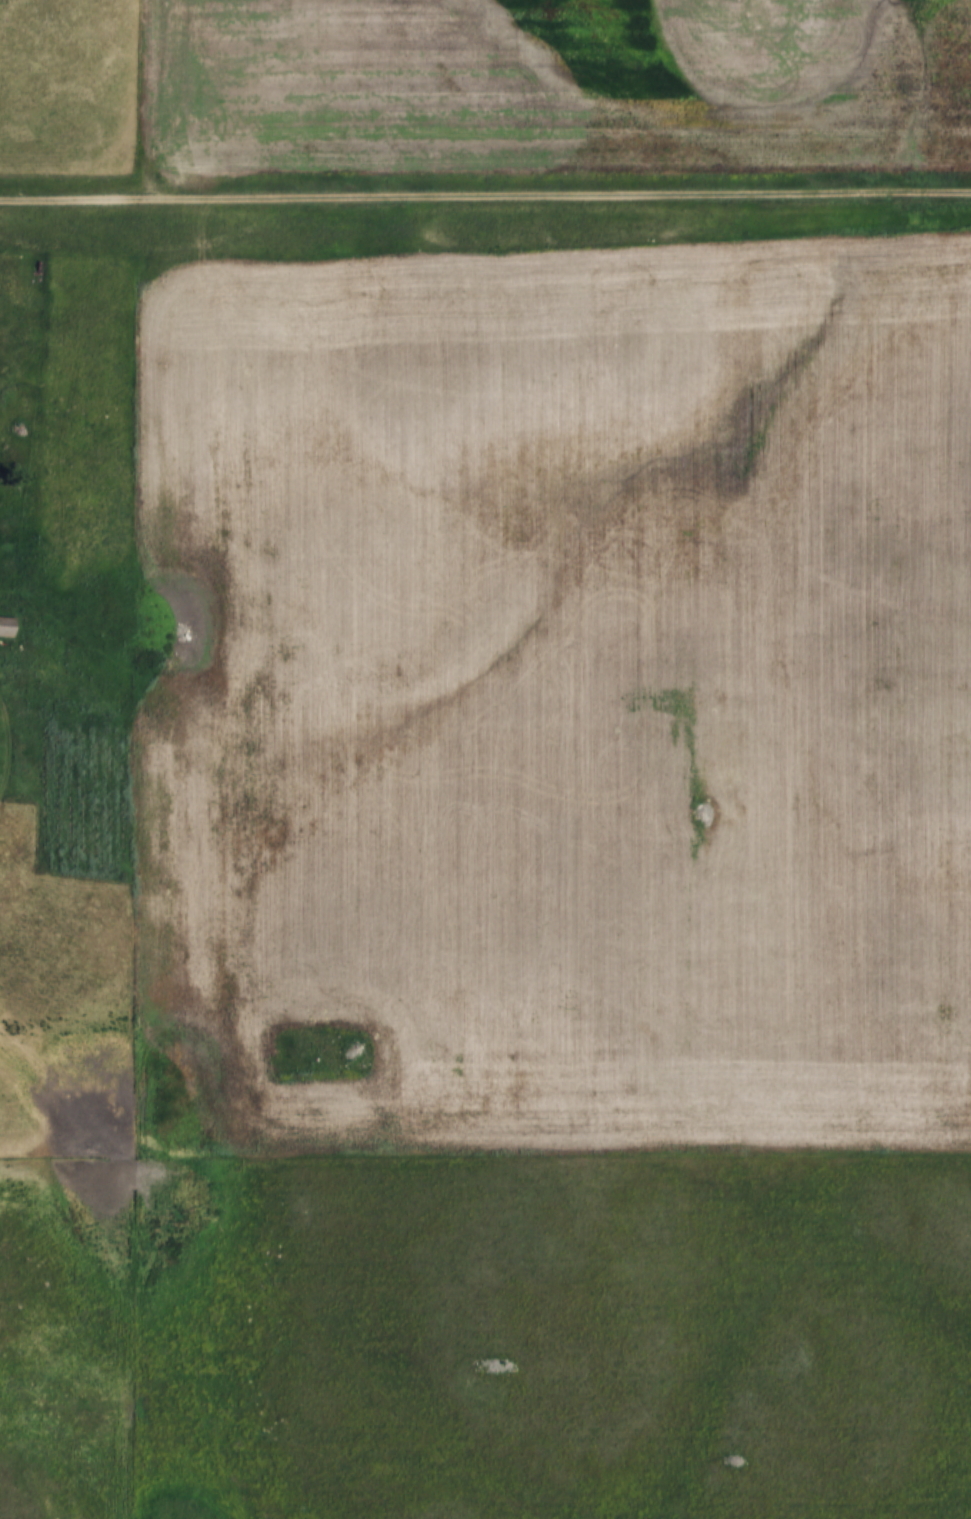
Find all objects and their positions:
road: (485, 199)
building: (7, 627)

